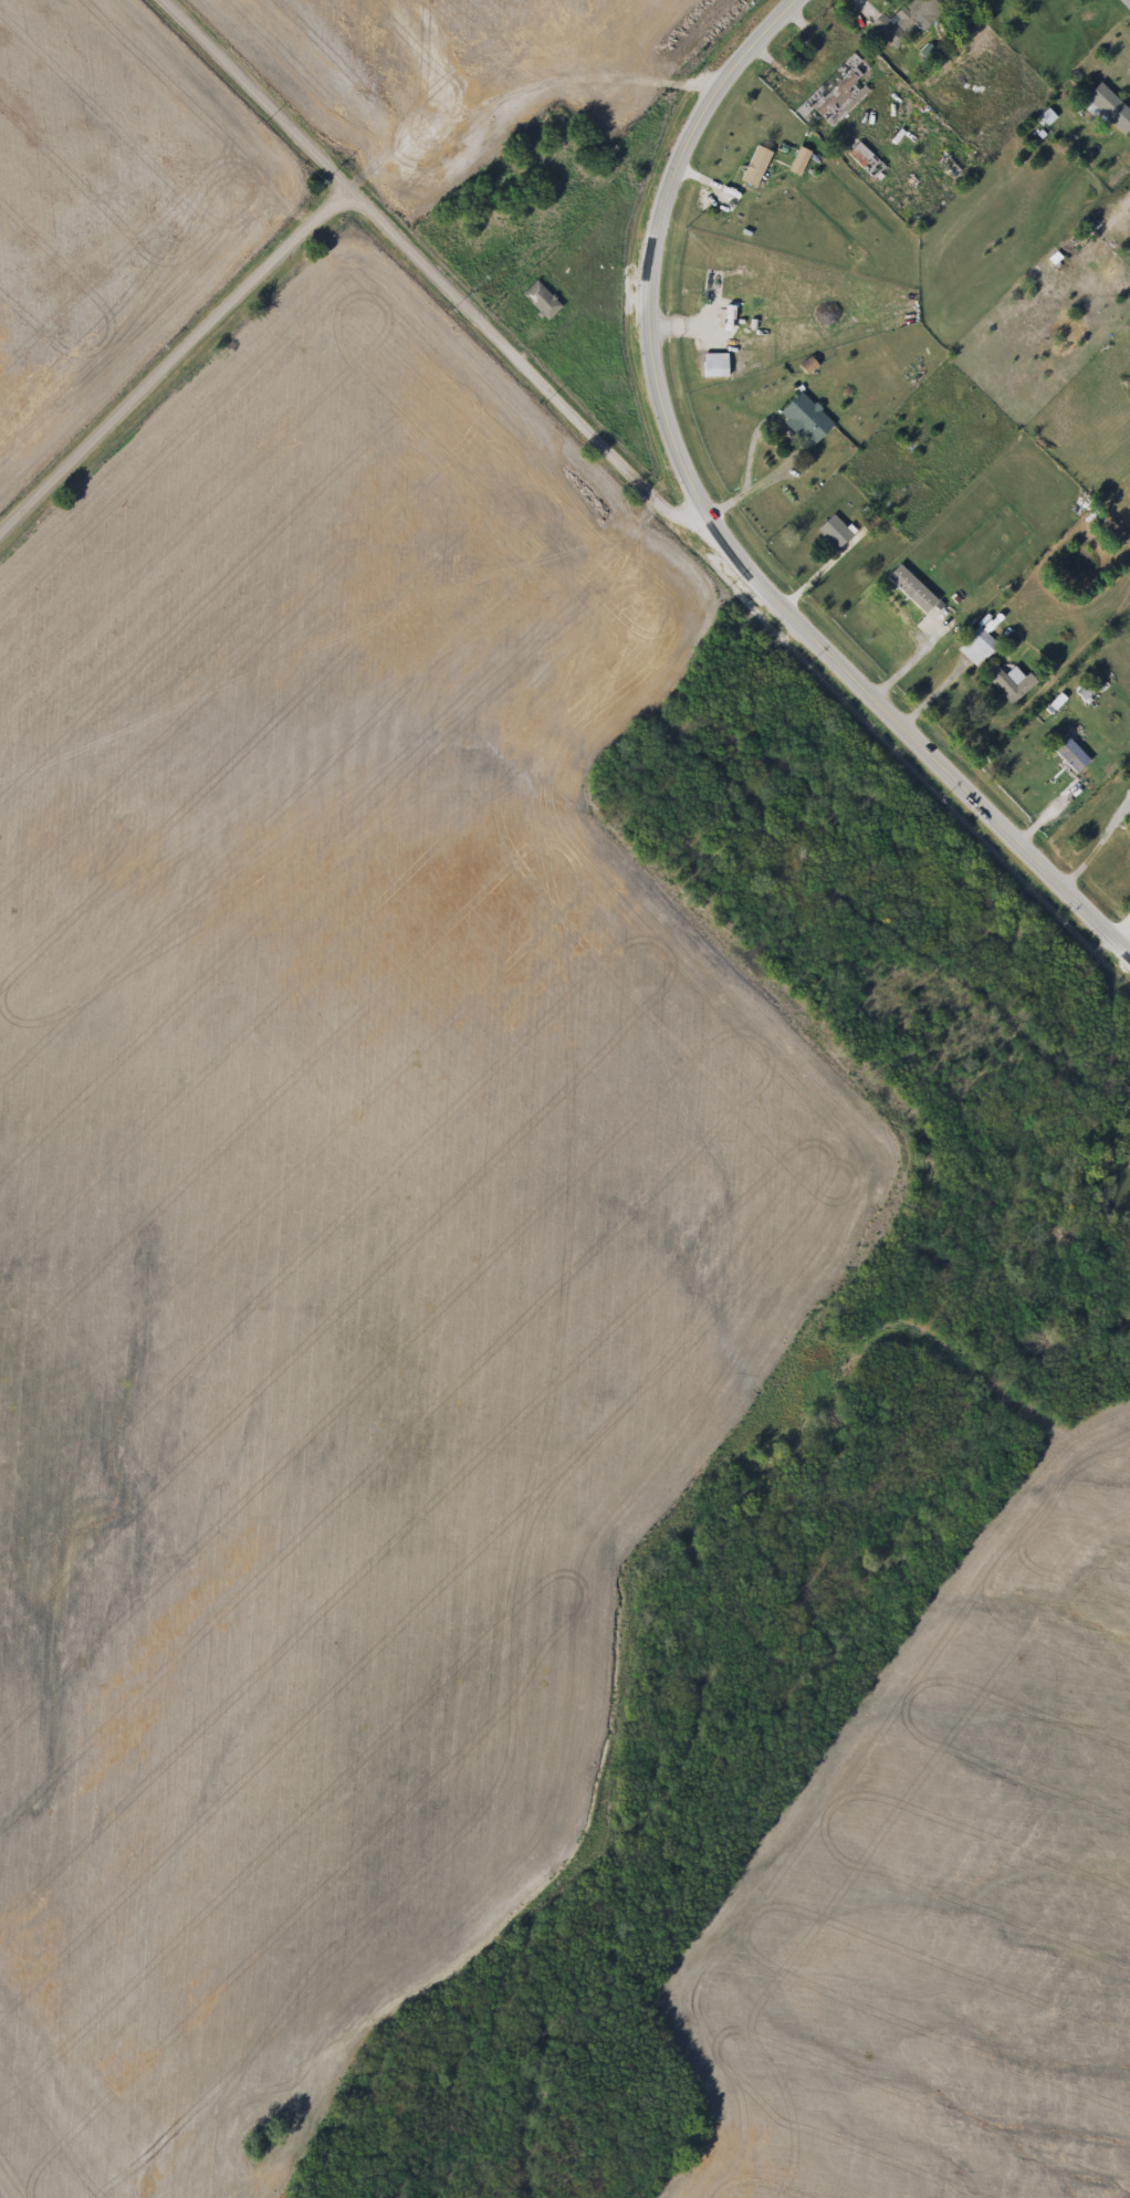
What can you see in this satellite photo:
building: (1039, 0)
road: (869, 8)
building: (912, 22)
road: (777, 61)
building: (841, 94)
building: (1113, 108)
building: (805, 161)
building: (761, 167)
road: (432, 268)
building: (546, 301)
building: (83, 310)
building: (729, 316)
road: (170, 349)
building: (810, 419)
road: (736, 488)
road: (722, 527)
building: (839, 532)
road: (807, 576)
building: (908, 605)
road: (914, 646)
building: (980, 647)
building: (1014, 681)
road: (930, 693)
building: (1067, 749)
road: (1047, 806)
road: (1084, 854)

